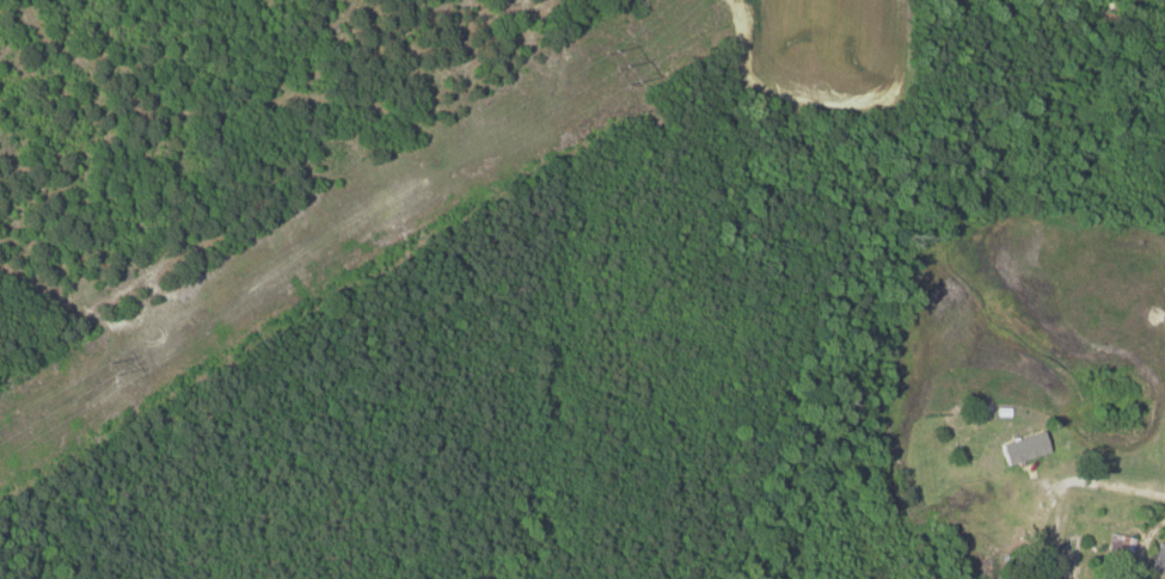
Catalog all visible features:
power tower: (617, 60)
power tower: (115, 361)
building: (1020, 446)
road: (1104, 480)
building: (1117, 546)
building: (1155, 559)

